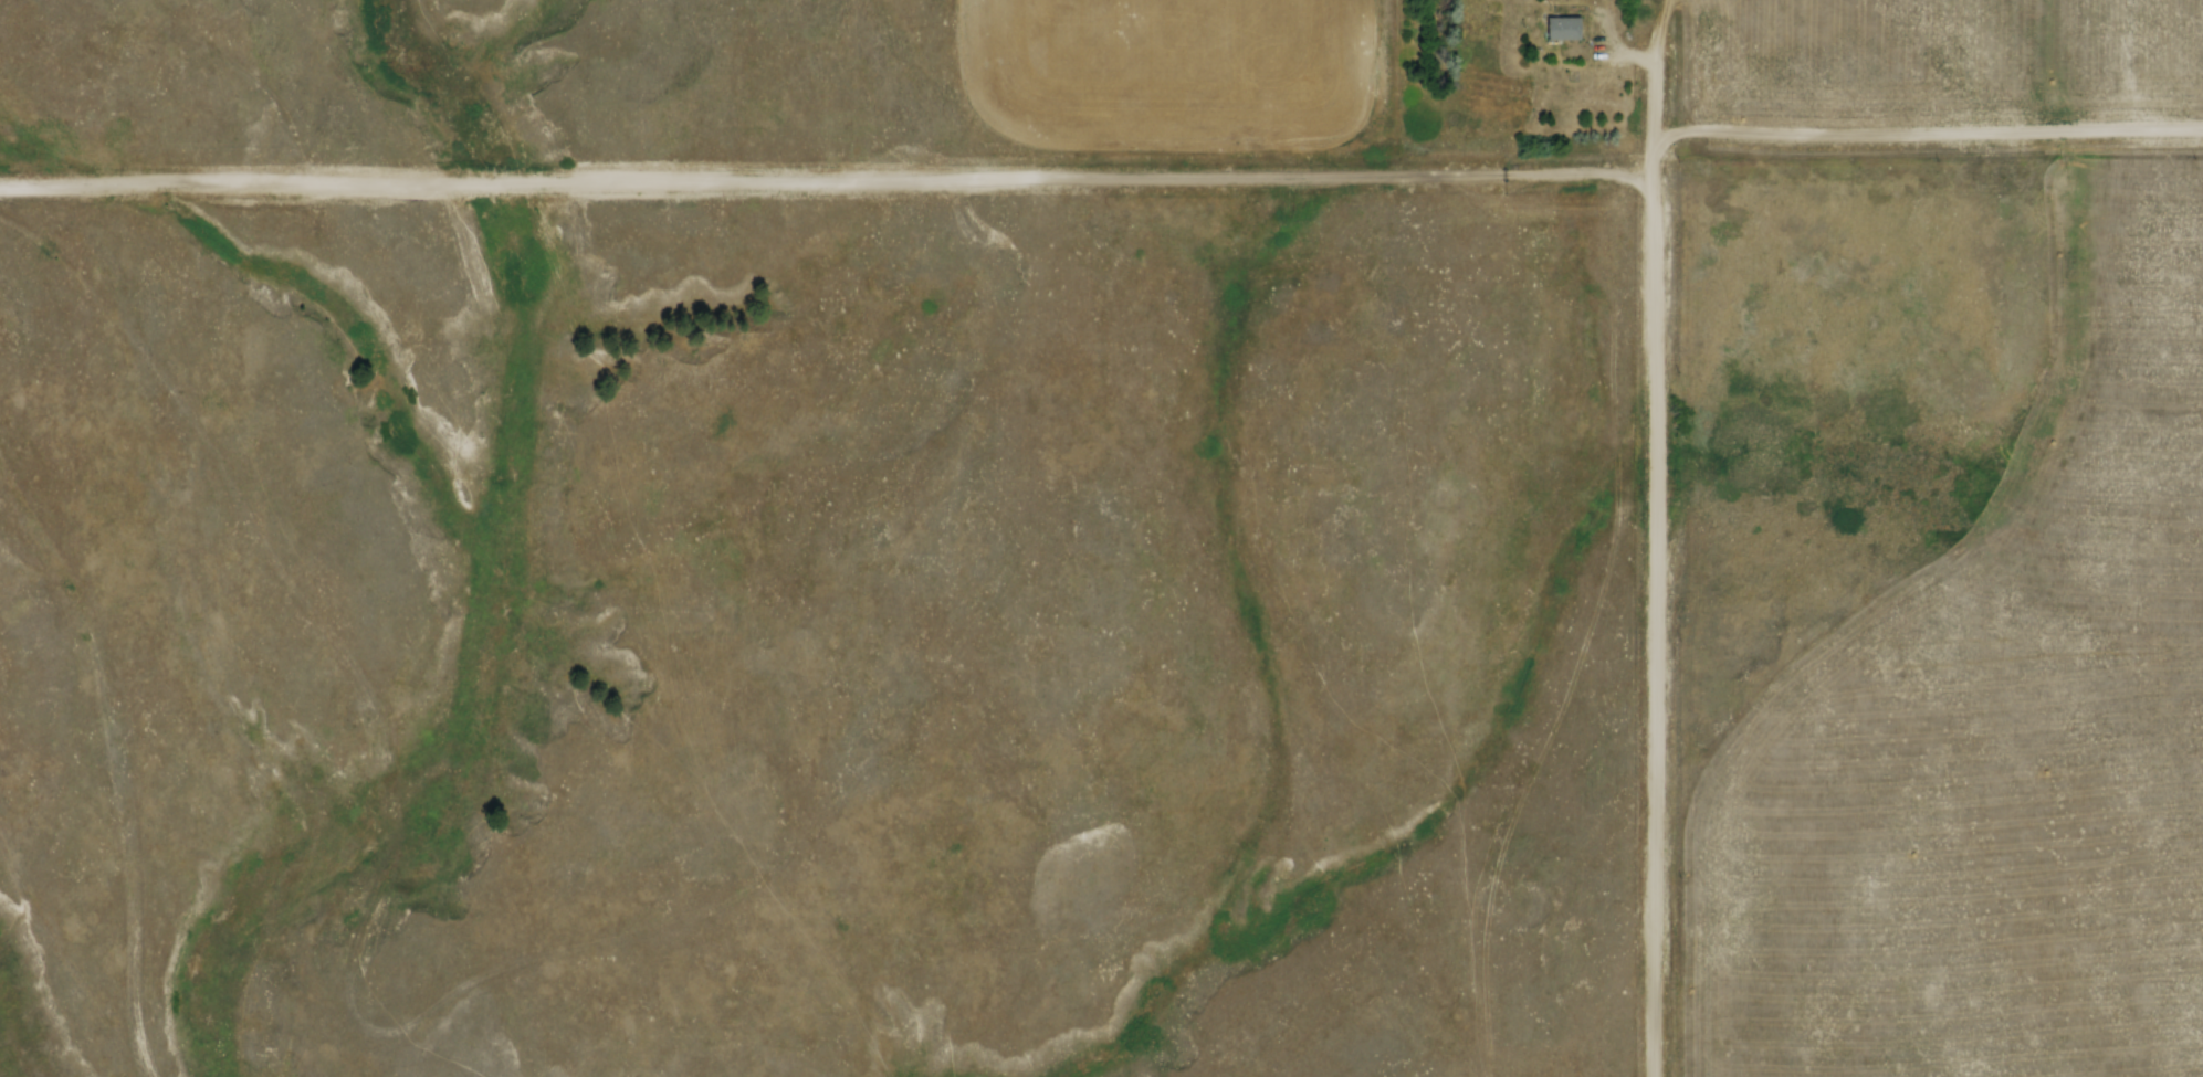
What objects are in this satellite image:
building: (1561, 27)
road: (1234, 211)
road: (119, 740)

